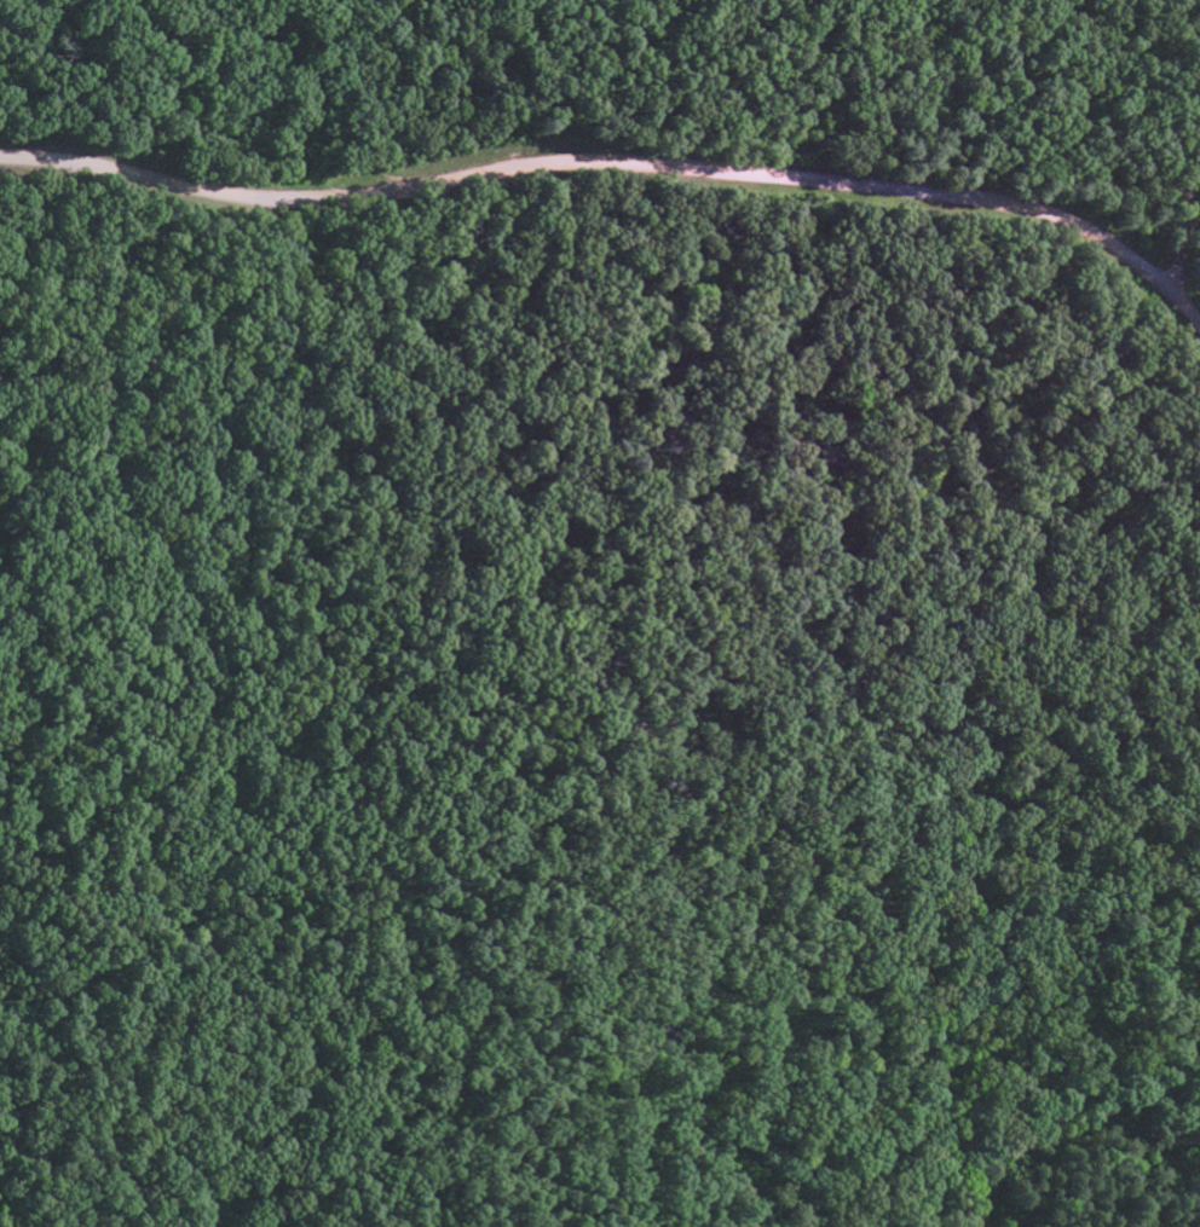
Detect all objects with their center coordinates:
road: (595, 163)
road: (1182, 235)
road: (1184, 306)
road: (501, 747)

